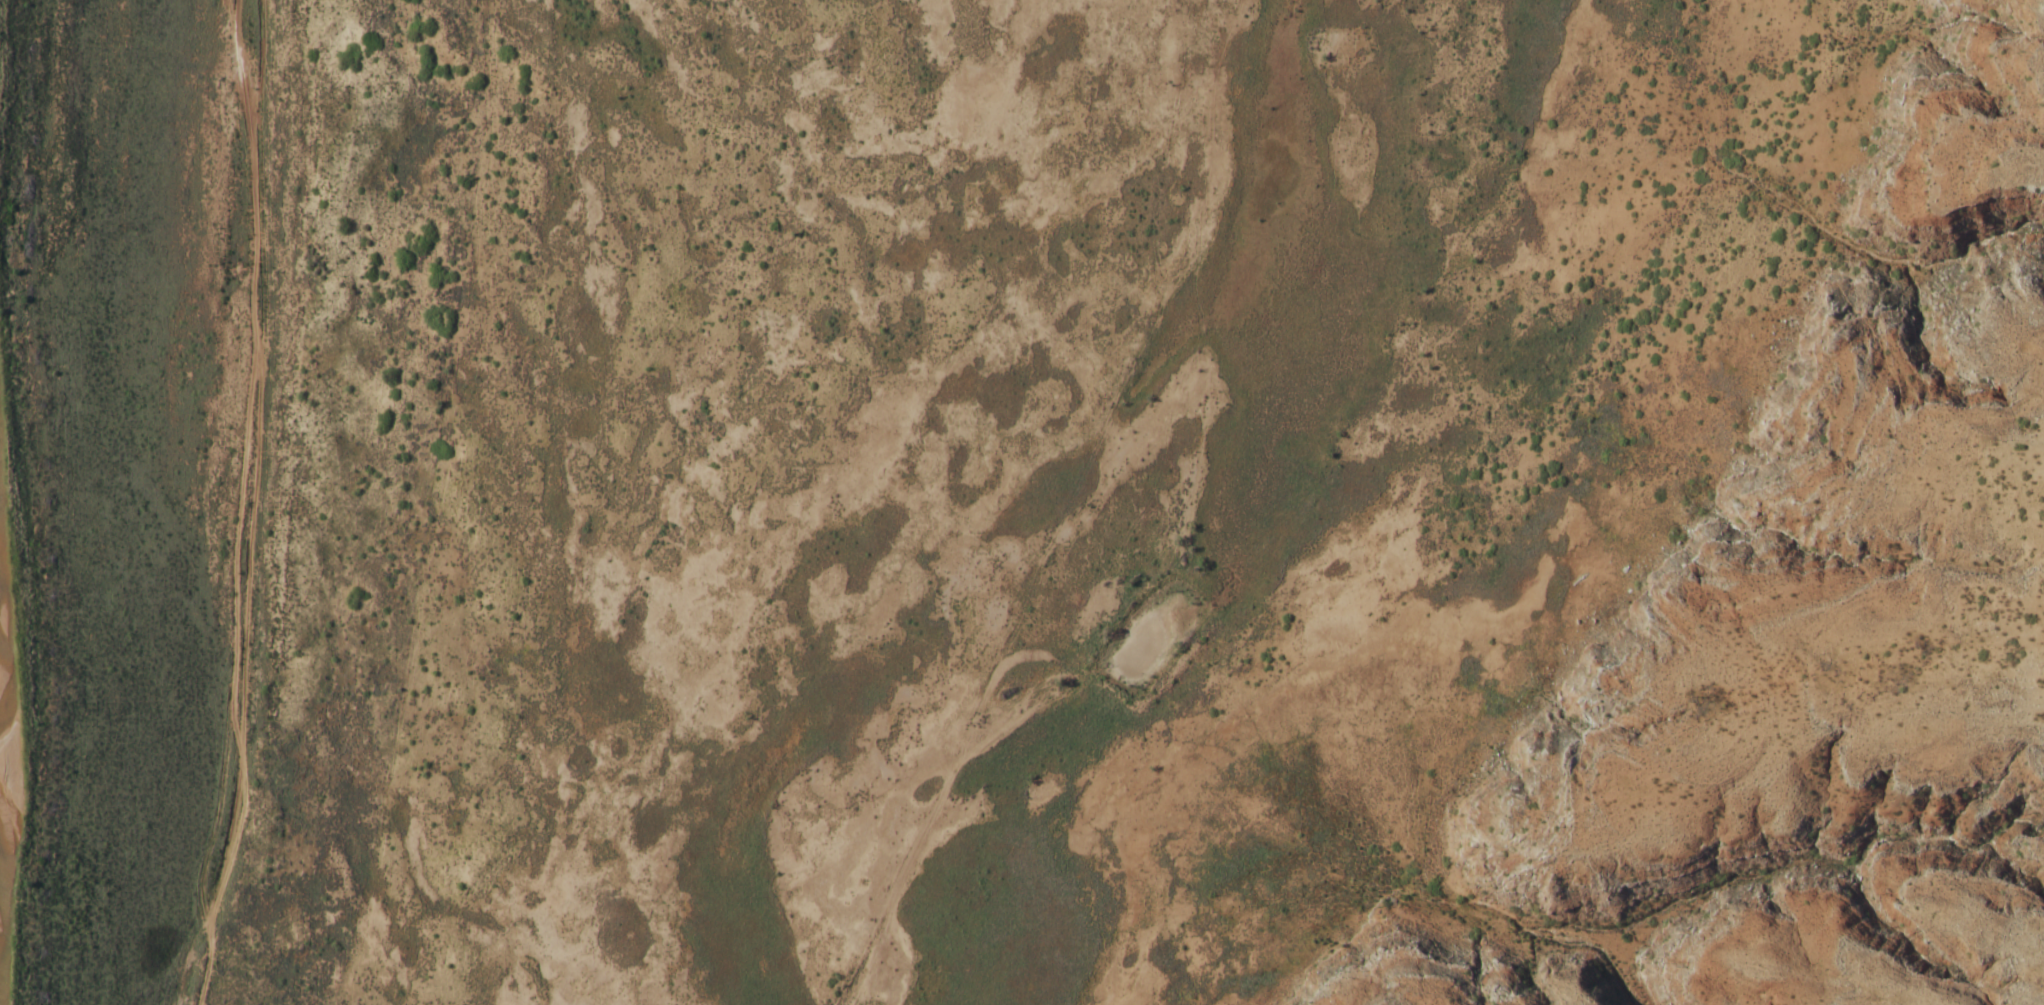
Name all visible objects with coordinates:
road: (241, 504)
road: (1054, 514)

